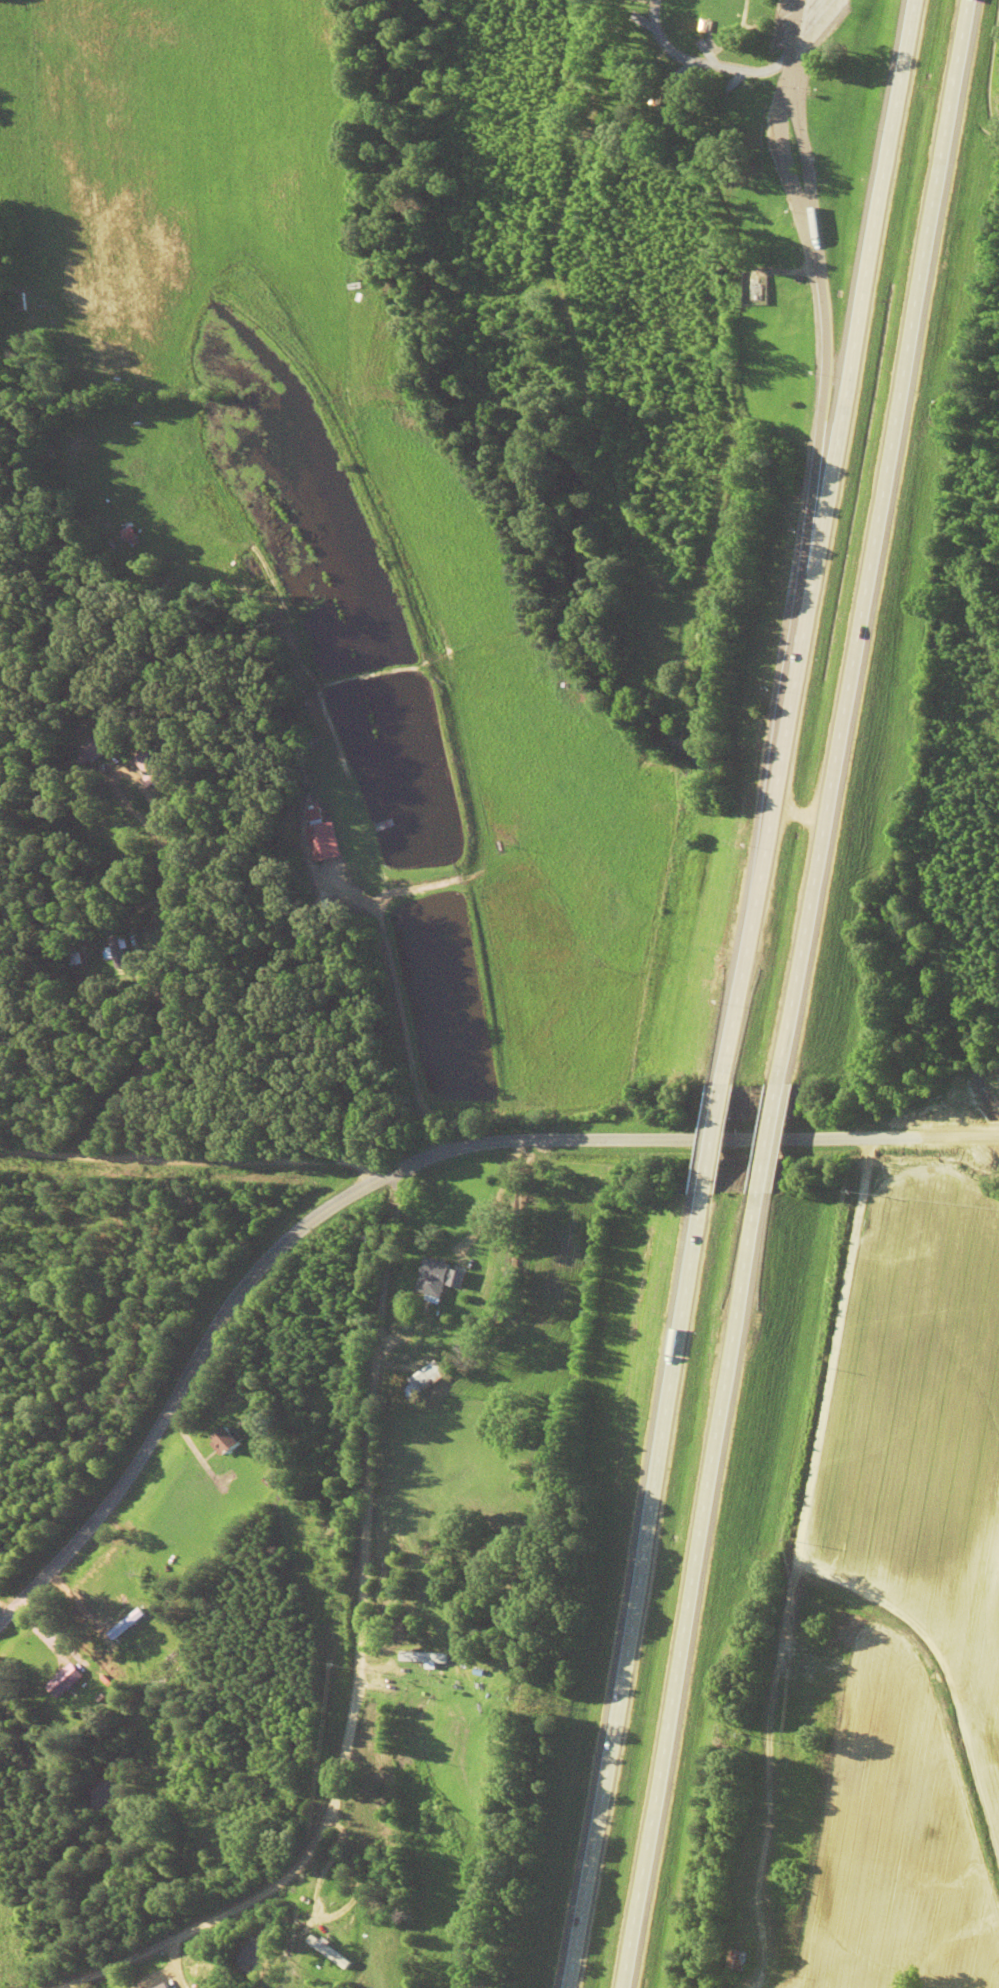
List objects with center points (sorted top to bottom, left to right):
road: (810, 319)
road: (810, 539)
road: (872, 540)
building: (91, 745)
building: (146, 766)
building: (317, 840)
road: (38, 858)
road: (873, 1132)
road: (708, 1134)
road: (765, 1134)
road: (192, 1160)
road: (285, 1227)
building: (436, 1276)
building: (419, 1379)
building: (226, 1438)
road: (686, 1588)
road: (630, 1589)
road: (350, 1658)
building: (63, 1678)
building: (327, 1950)
building: (735, 1959)
building: (159, 1986)

